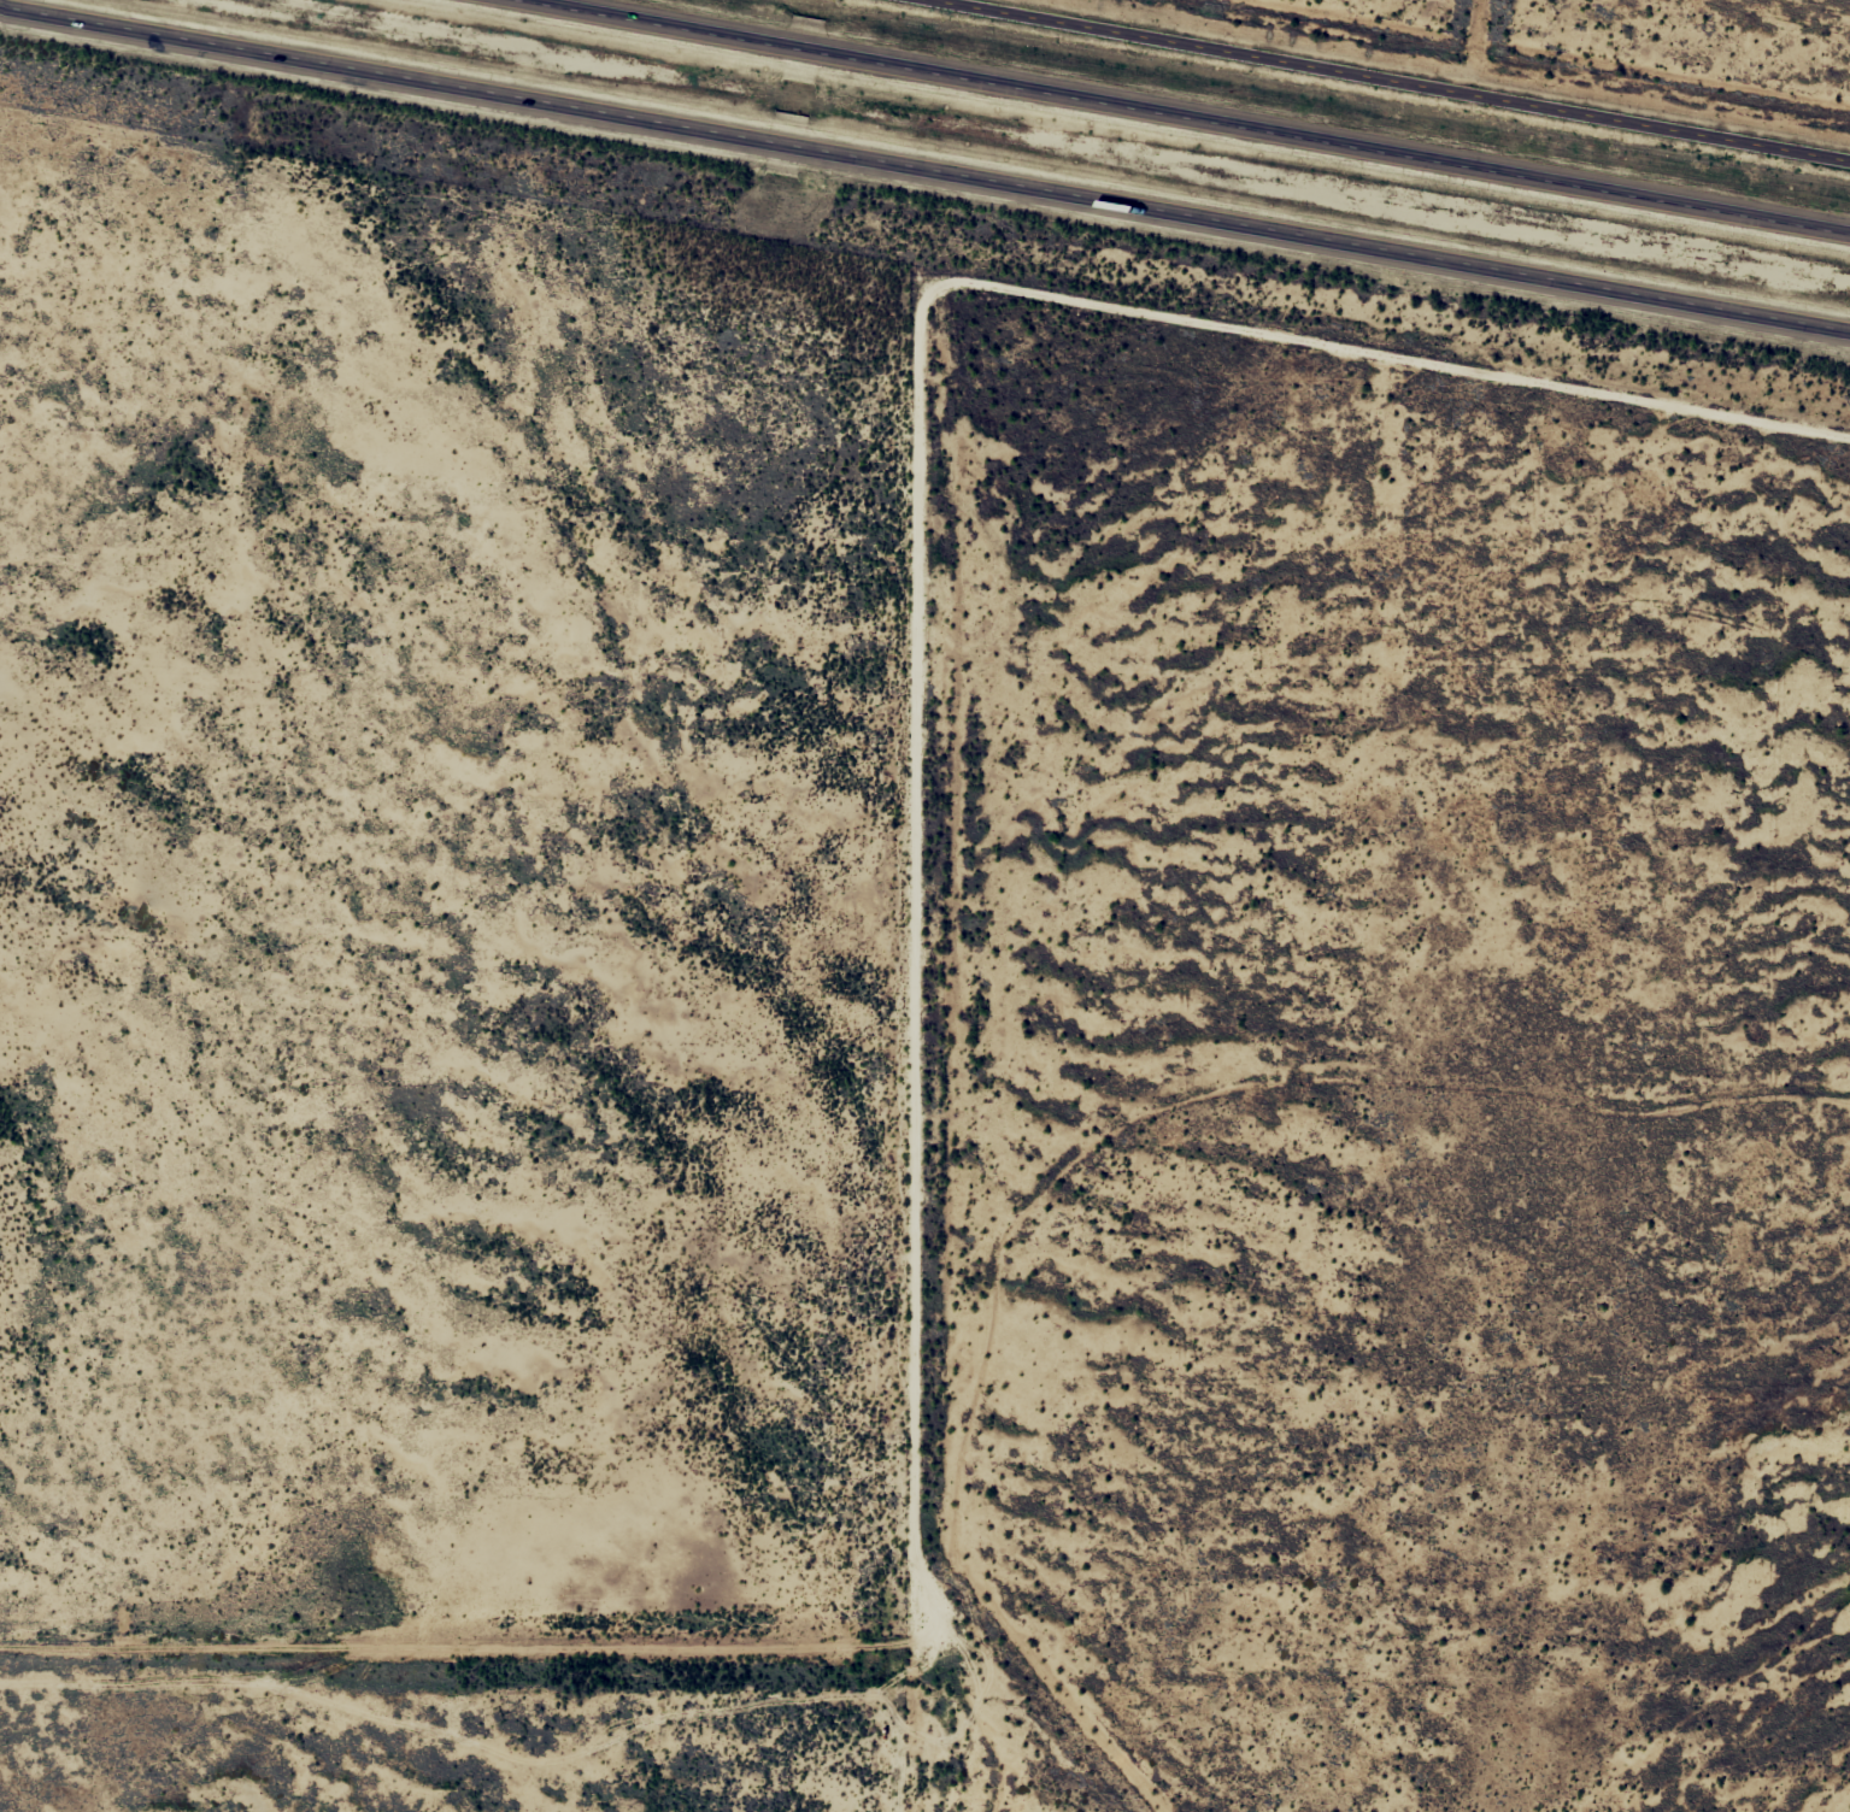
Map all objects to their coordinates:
road: (1404, 76)
road: (1216, 110)
road: (924, 176)

